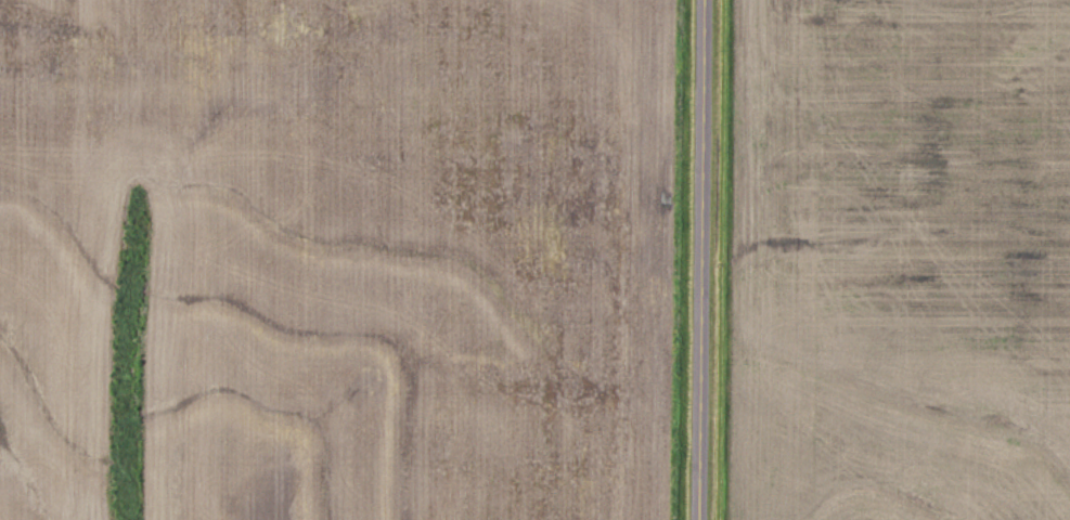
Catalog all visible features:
road: (708, 260)

